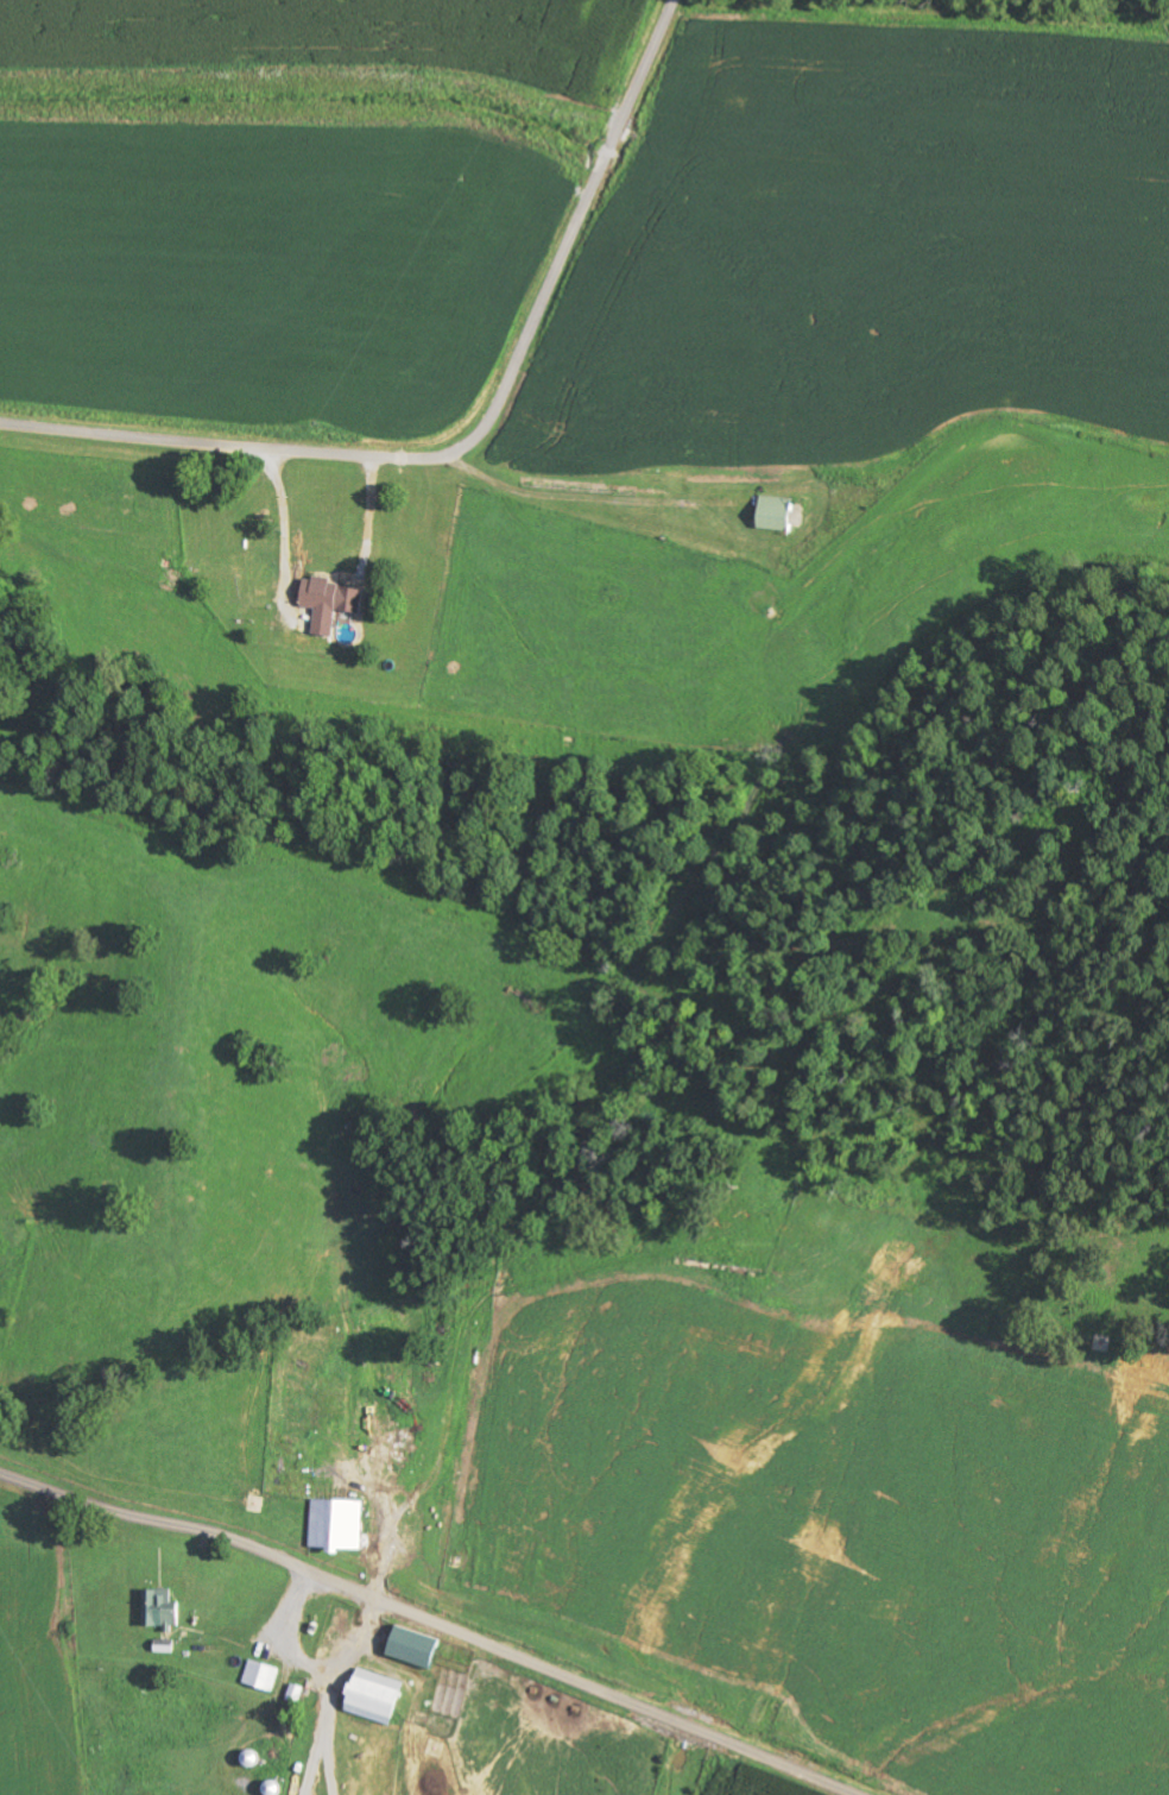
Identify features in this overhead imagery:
road: (473, 435)
building: (770, 514)
building: (322, 603)
building: (334, 1525)
building: (159, 1610)
road: (431, 1621)
building: (415, 1648)
building: (259, 1675)
building: (377, 1698)
building: (271, 1789)

